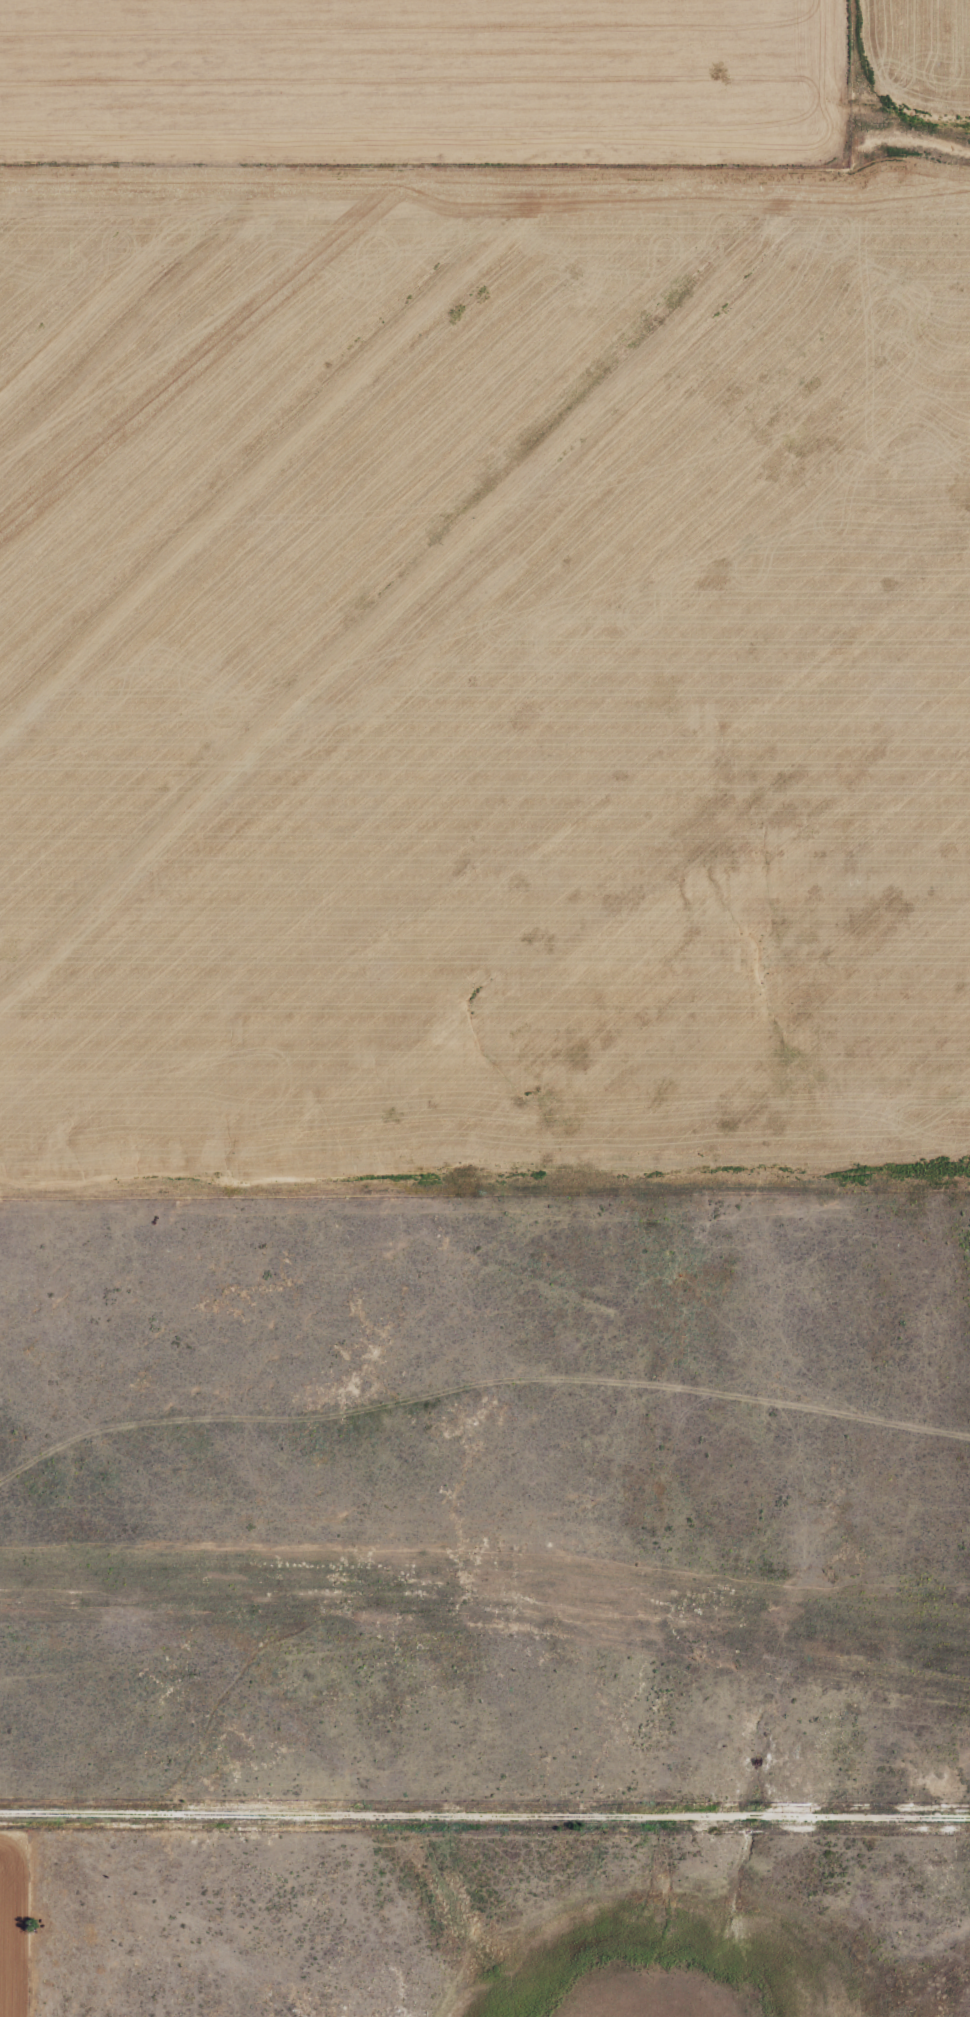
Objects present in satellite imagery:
road: (485, 1812)

